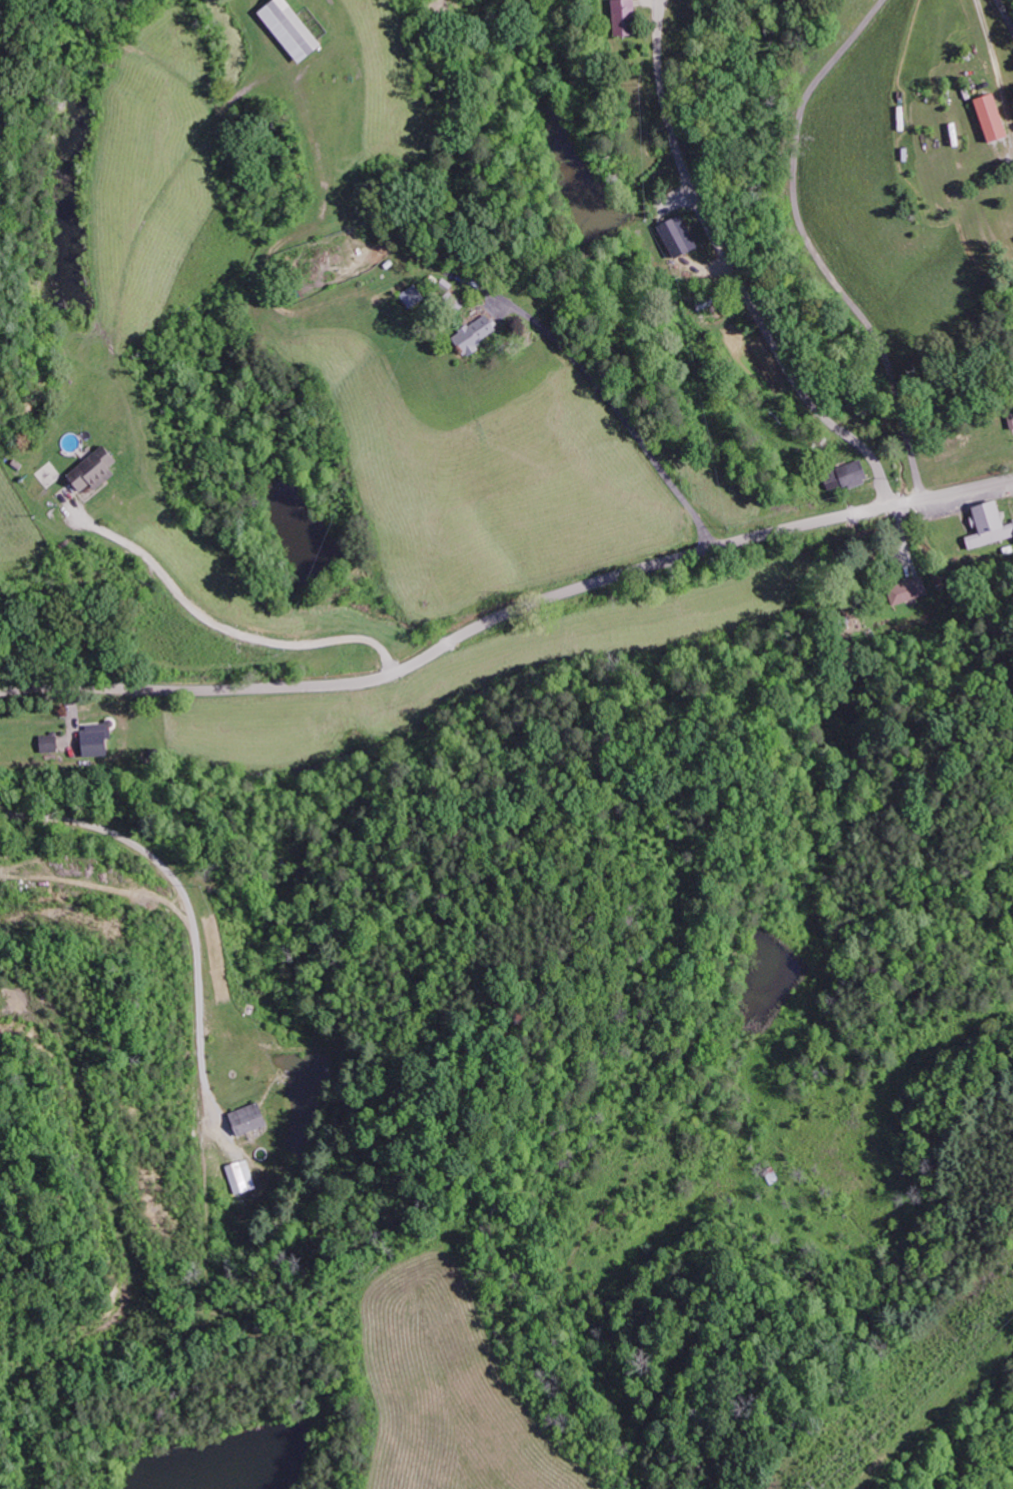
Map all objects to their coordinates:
building: (620, 17)
building: (284, 28)
building: (988, 117)
building: (673, 235)
road: (733, 270)
building: (446, 295)
building: (473, 334)
road: (597, 396)
building: (92, 469)
building: (843, 476)
building: (986, 525)
building: (908, 590)
road: (506, 611)
building: (99, 738)
building: (52, 743)
building: (252, 1118)
building: (243, 1176)
road: (584, 1354)

